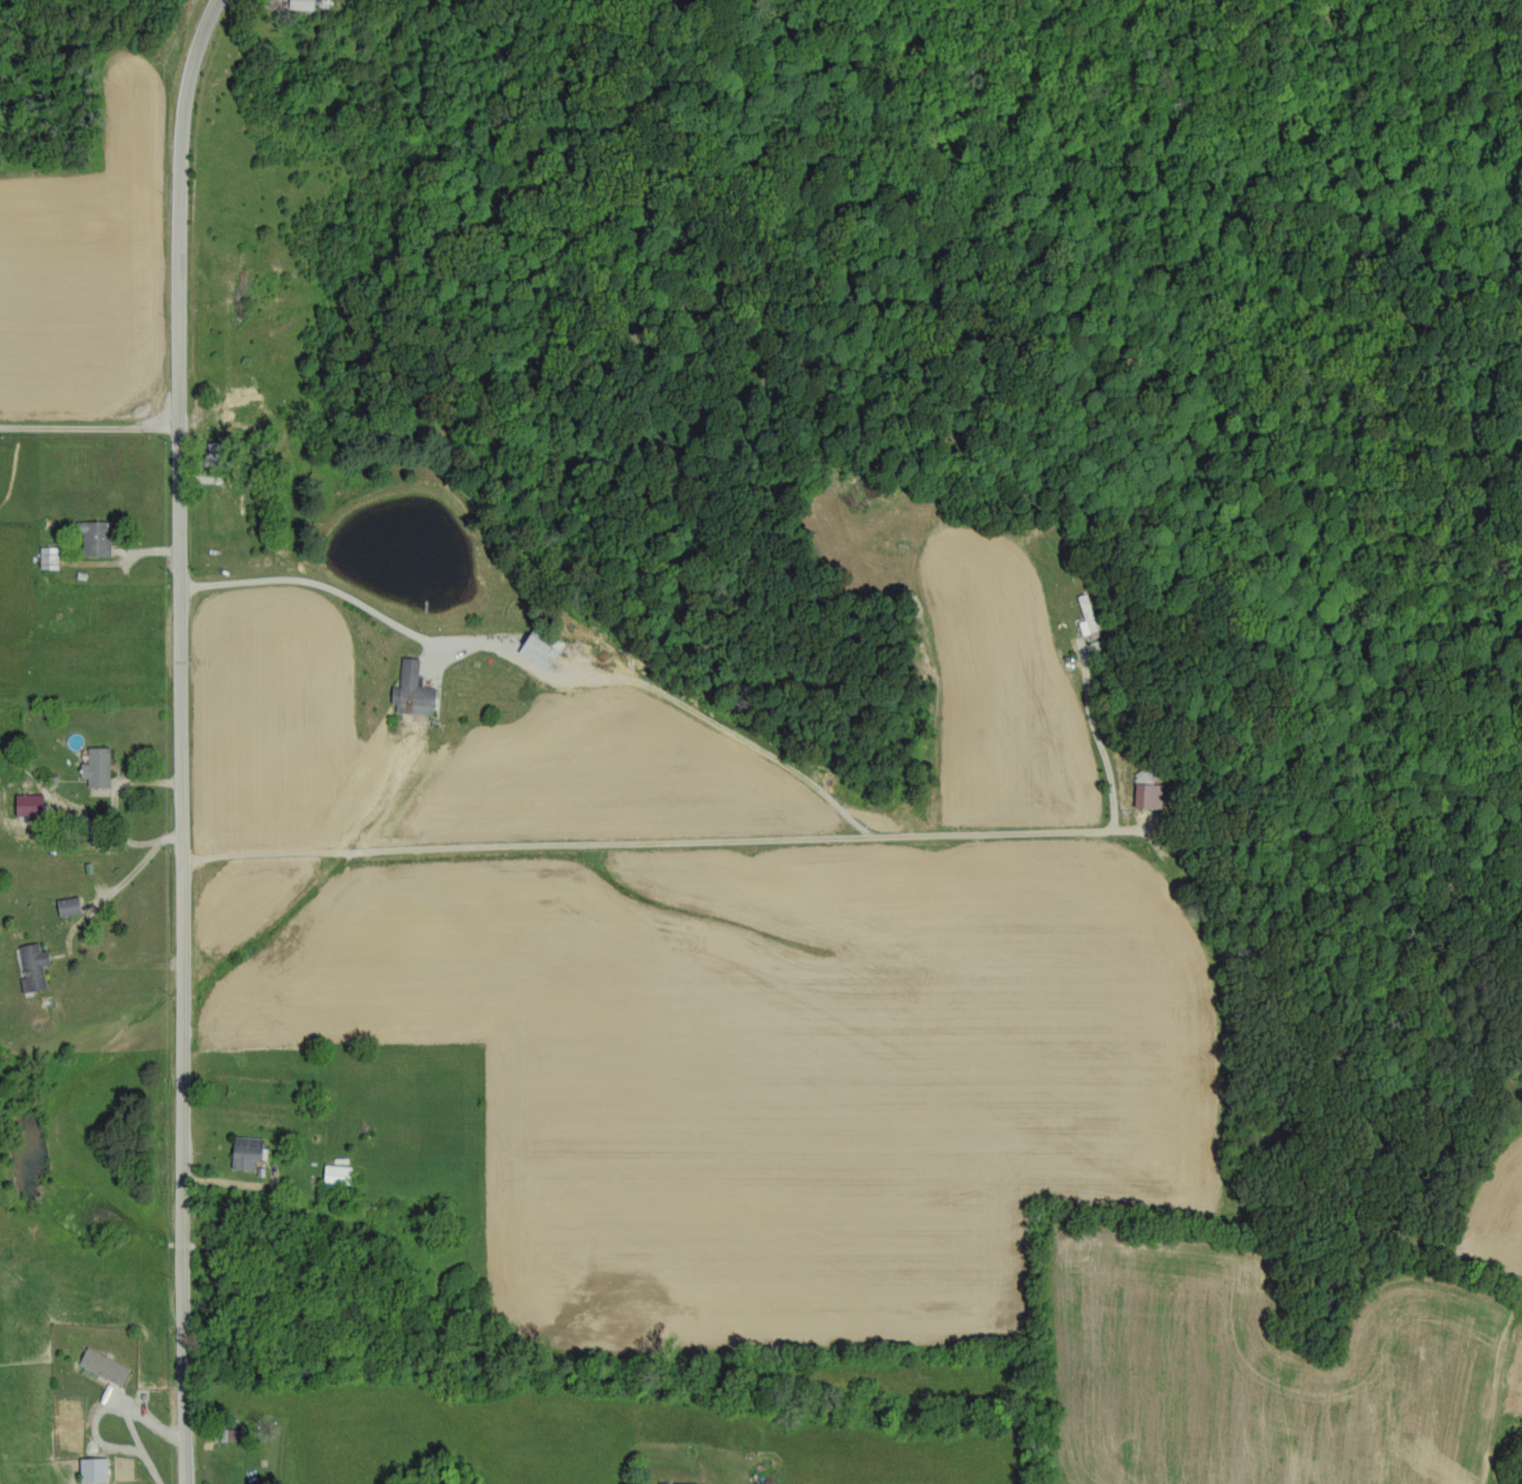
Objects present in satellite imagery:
building: (303, 4)
road: (90, 433)
building: (219, 453)
building: (97, 537)
building: (50, 556)
road: (314, 586)
building: (1087, 617)
building: (544, 649)
building: (414, 689)
road: (181, 739)
building: (98, 766)
building: (1149, 794)
building: (31, 803)
road: (671, 840)
road: (125, 881)
building: (70, 905)
building: (34, 966)
building: (248, 1151)
building: (339, 1173)
building: (106, 1365)
building: (95, 1470)
building: (679, 1482)

